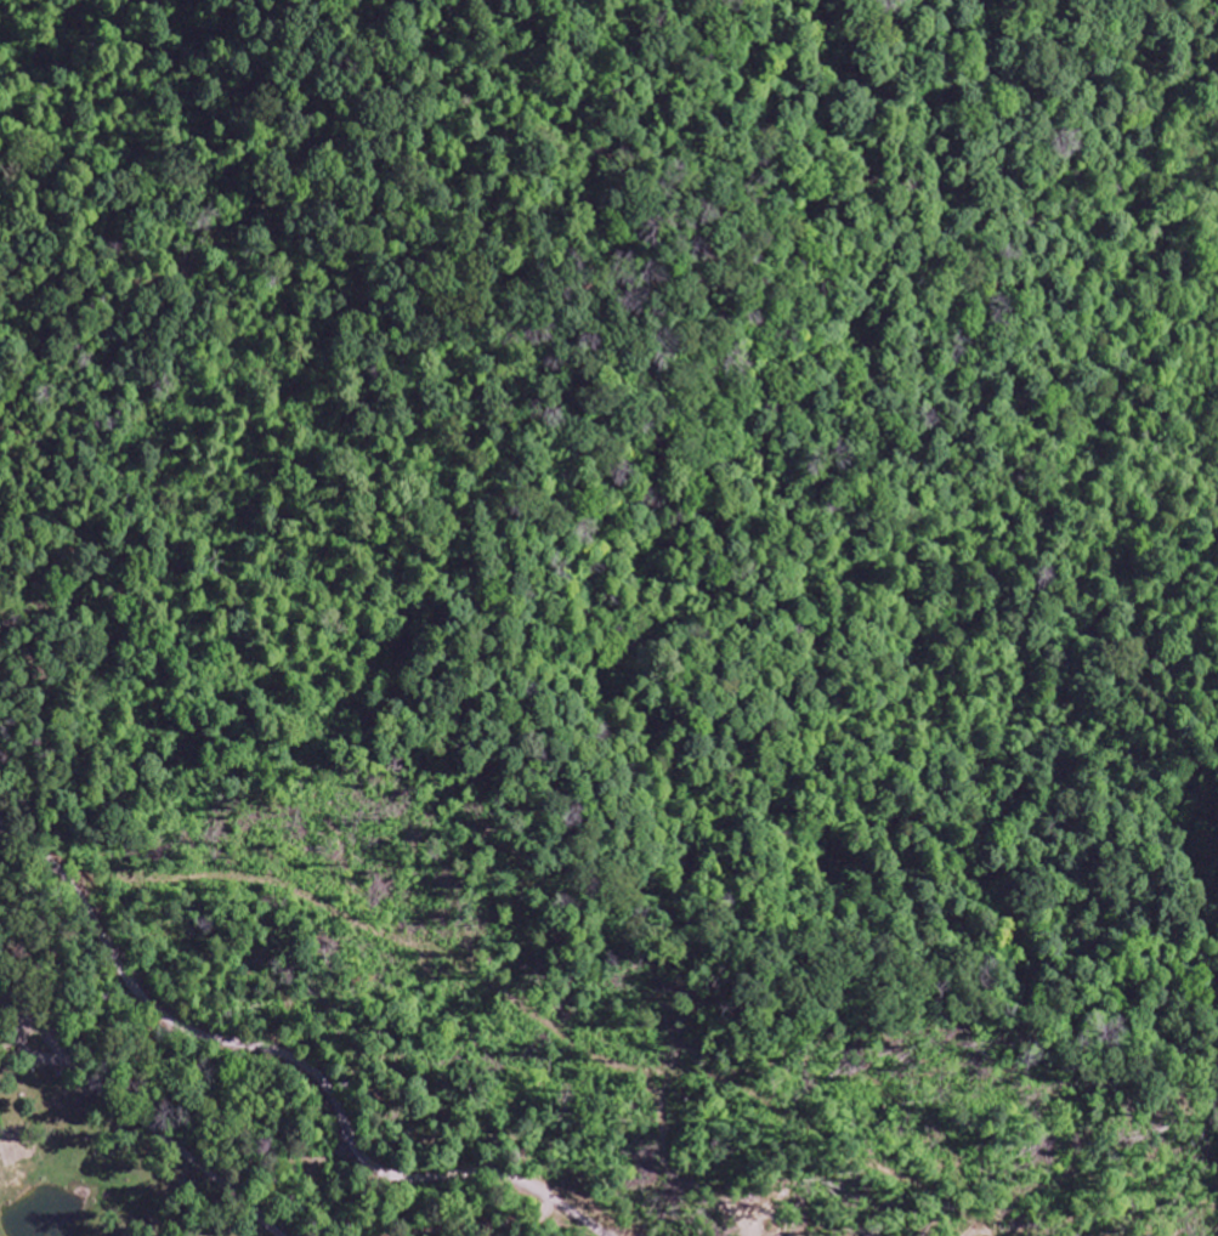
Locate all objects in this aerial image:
road: (291, 1054)

